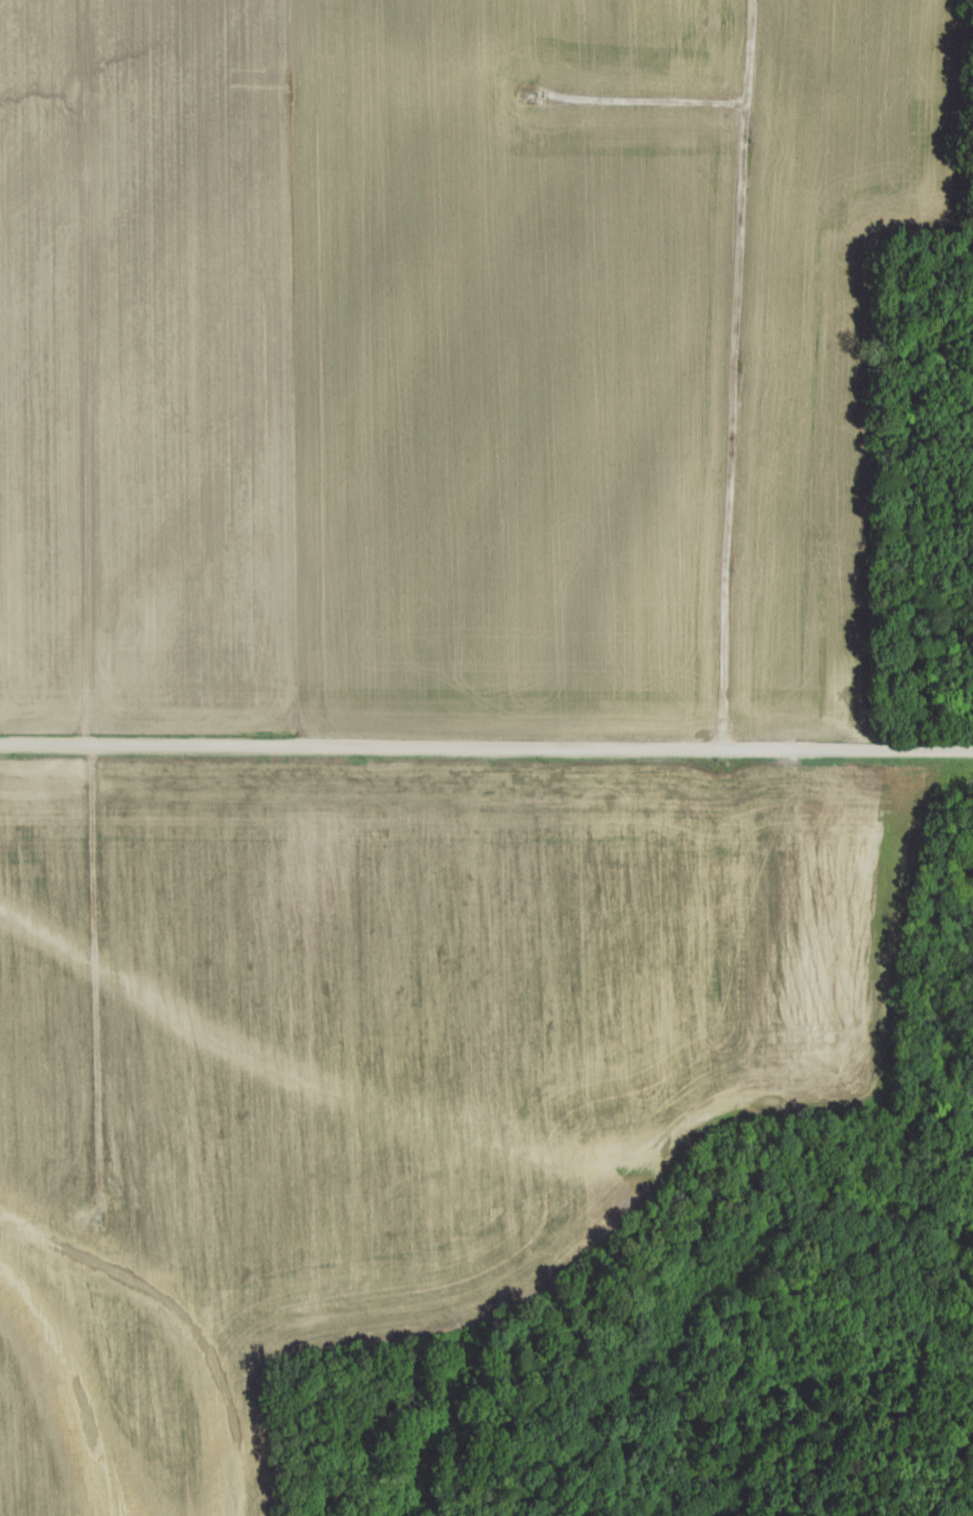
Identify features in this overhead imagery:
road: (637, 99)
road: (730, 374)
road: (90, 586)
road: (486, 748)

